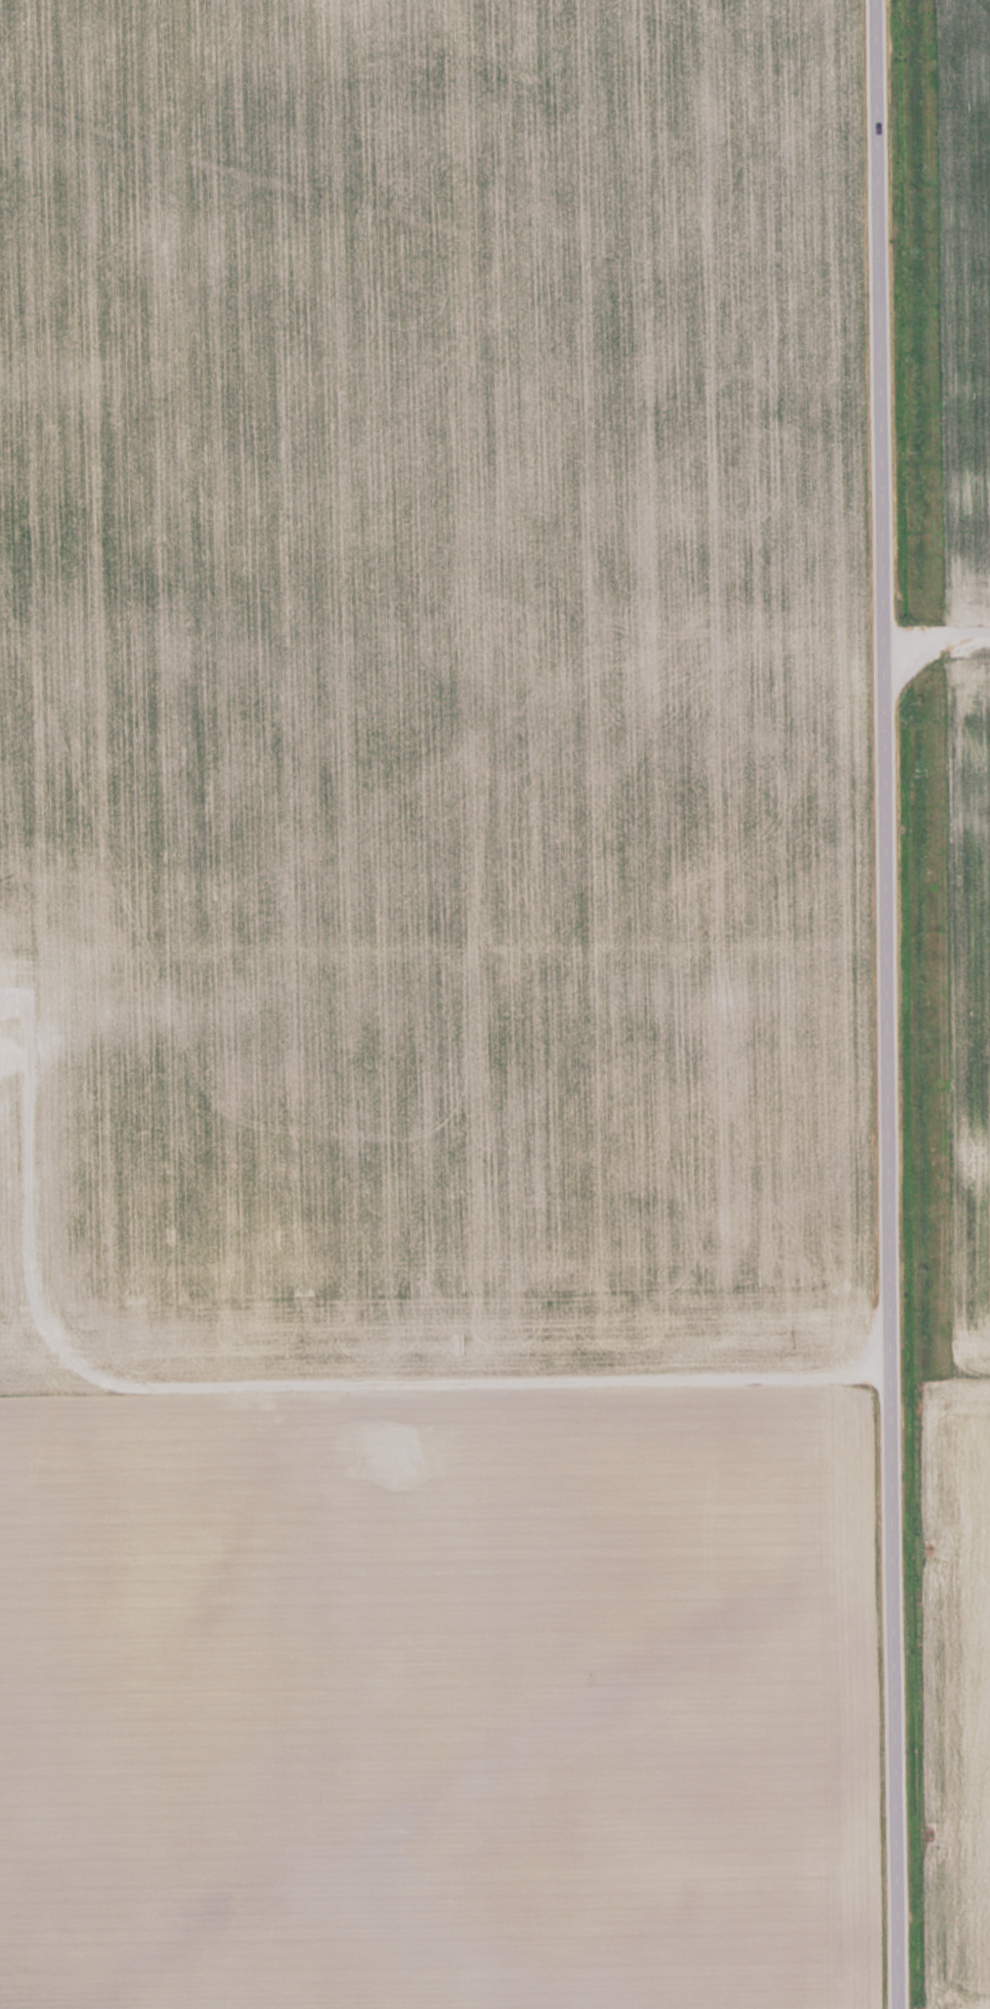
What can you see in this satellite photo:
road: (940, 632)
road: (893, 1004)
road: (300, 1386)

